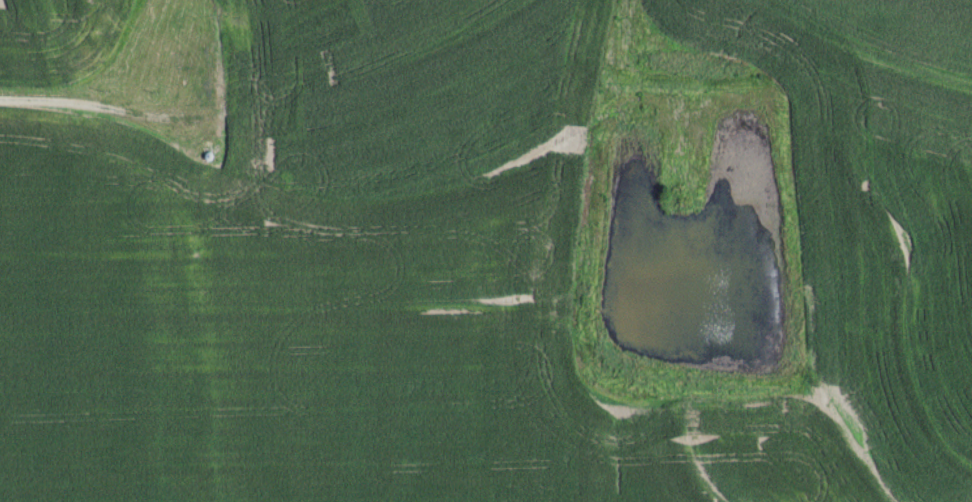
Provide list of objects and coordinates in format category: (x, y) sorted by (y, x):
building: (231, 93)
road: (99, 104)

